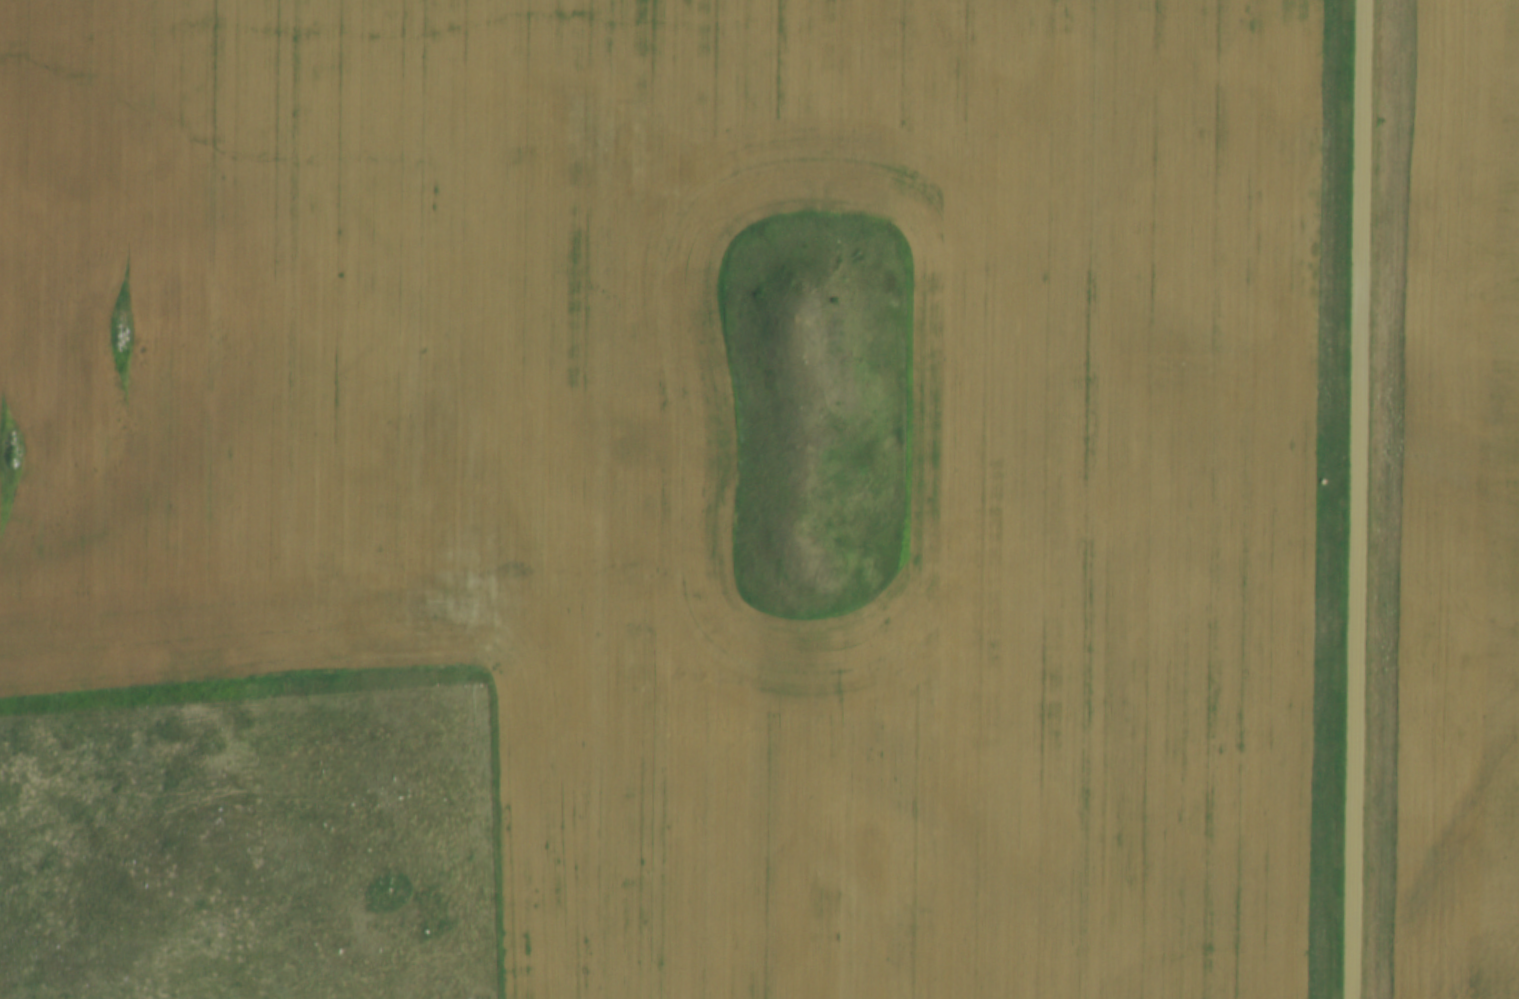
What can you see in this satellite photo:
road: (1366, 499)

